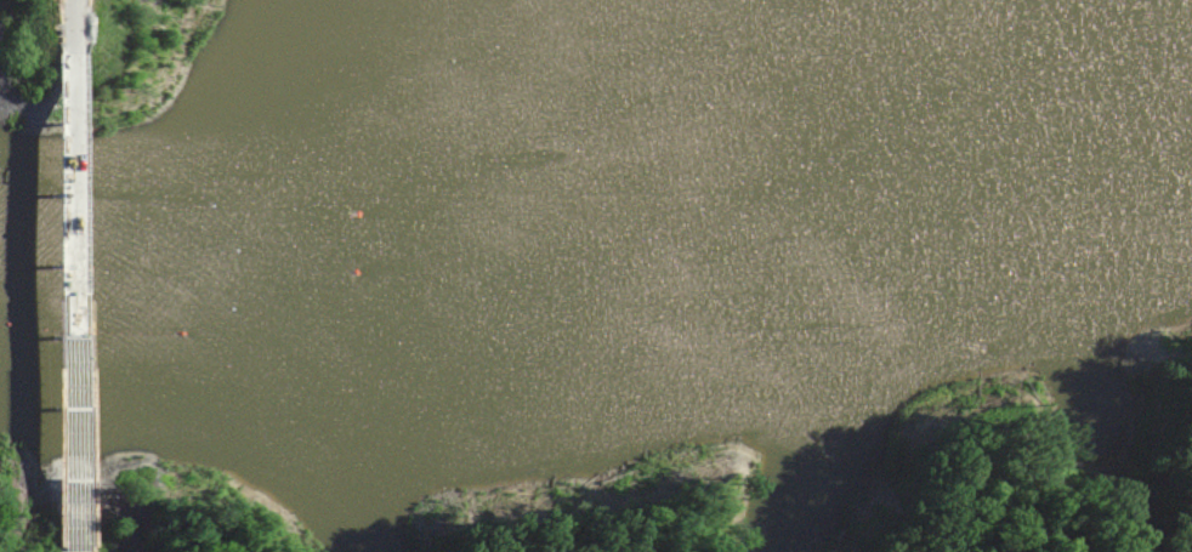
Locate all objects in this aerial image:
road: (73, 16)
river: (595, 283)
road: (76, 292)

